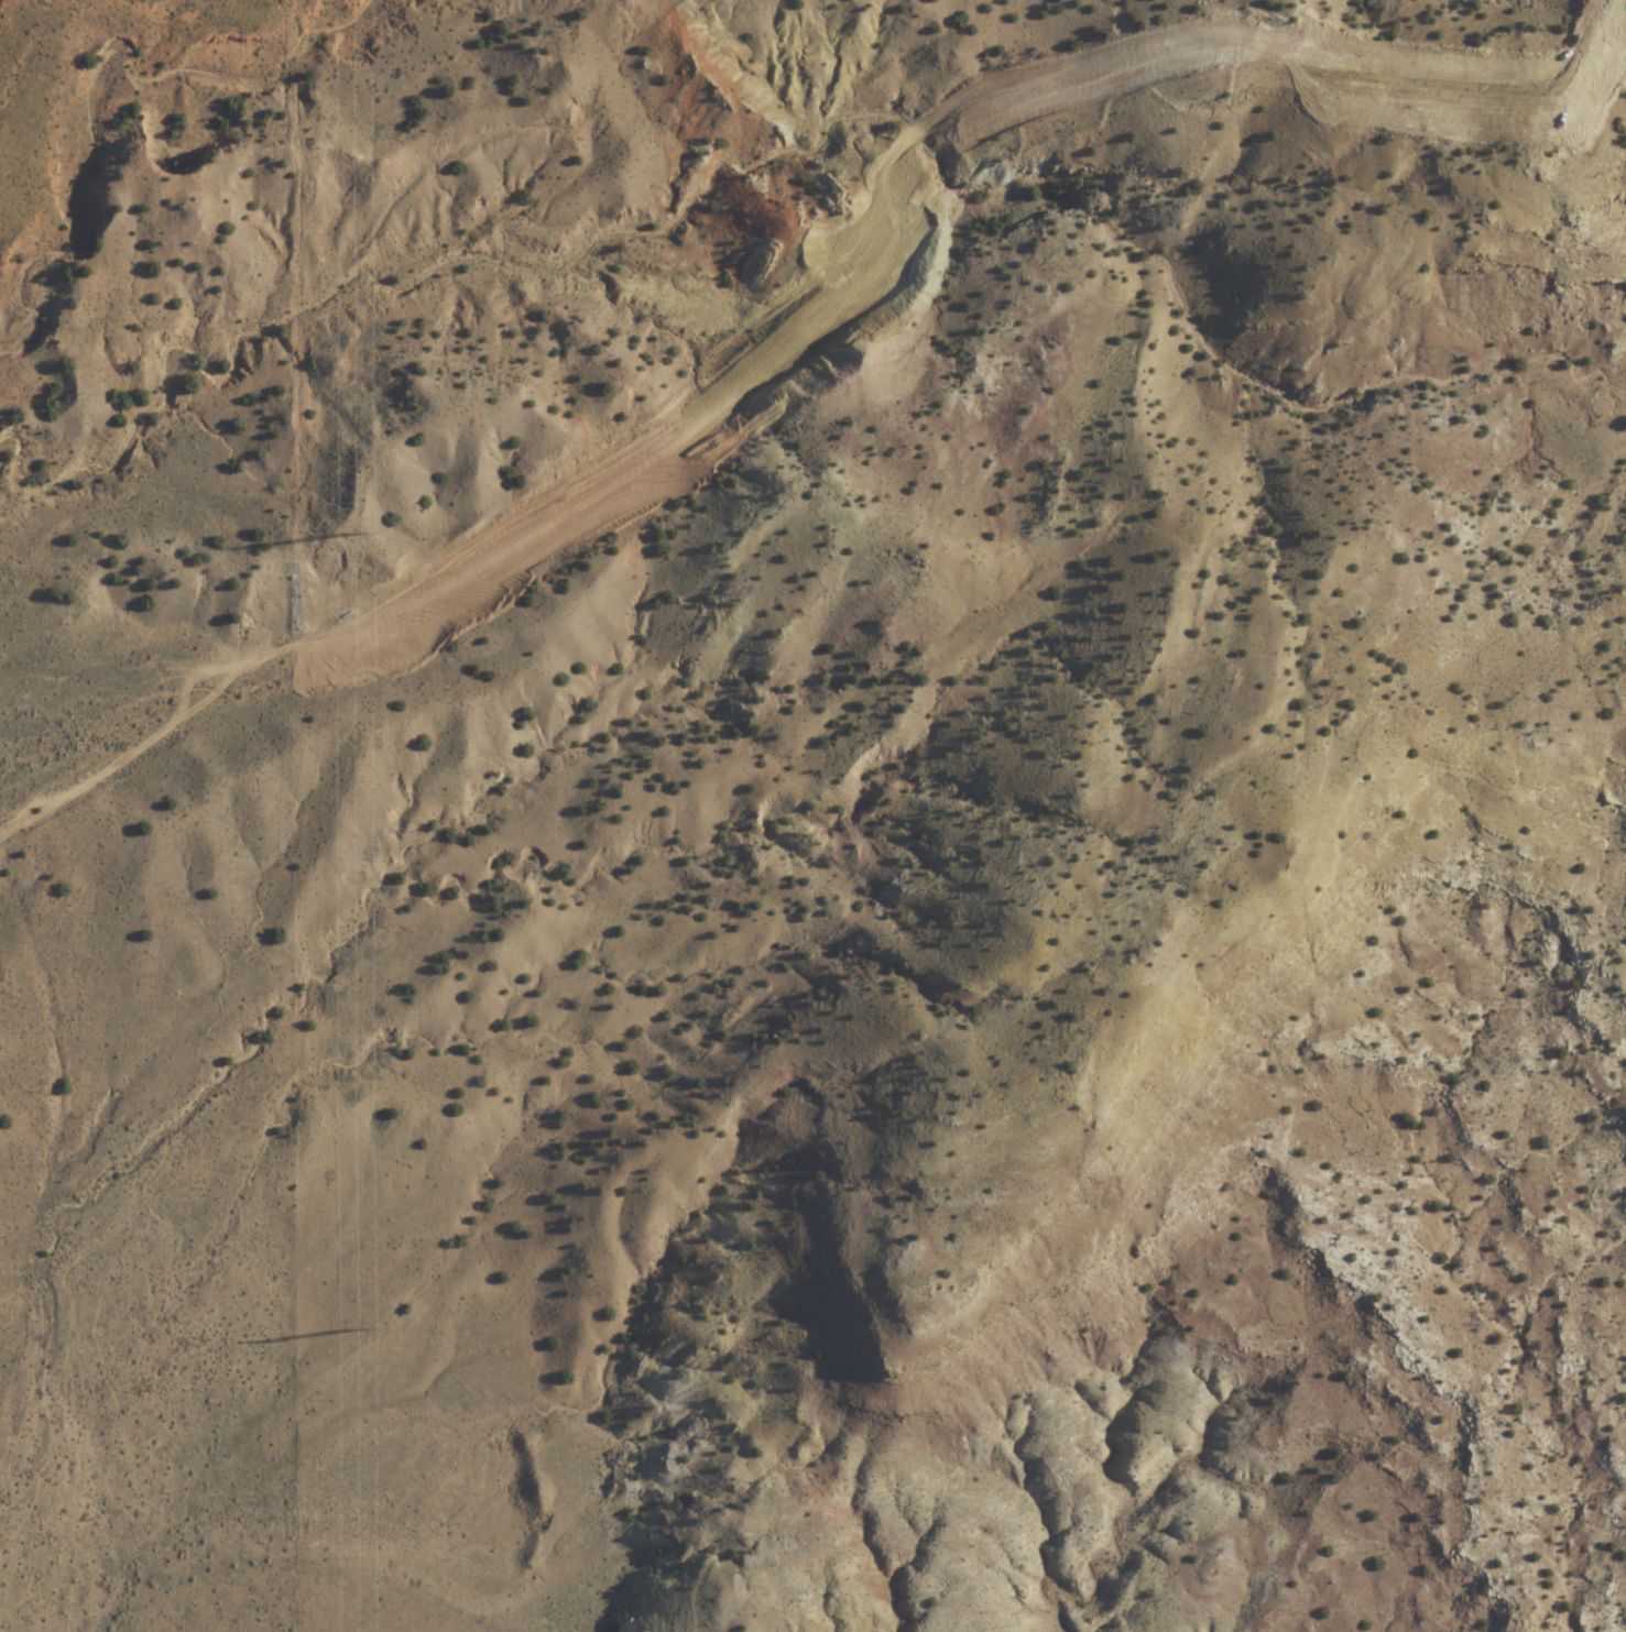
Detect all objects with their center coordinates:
power tower: (370, 535)
power tower: (375, 1332)

